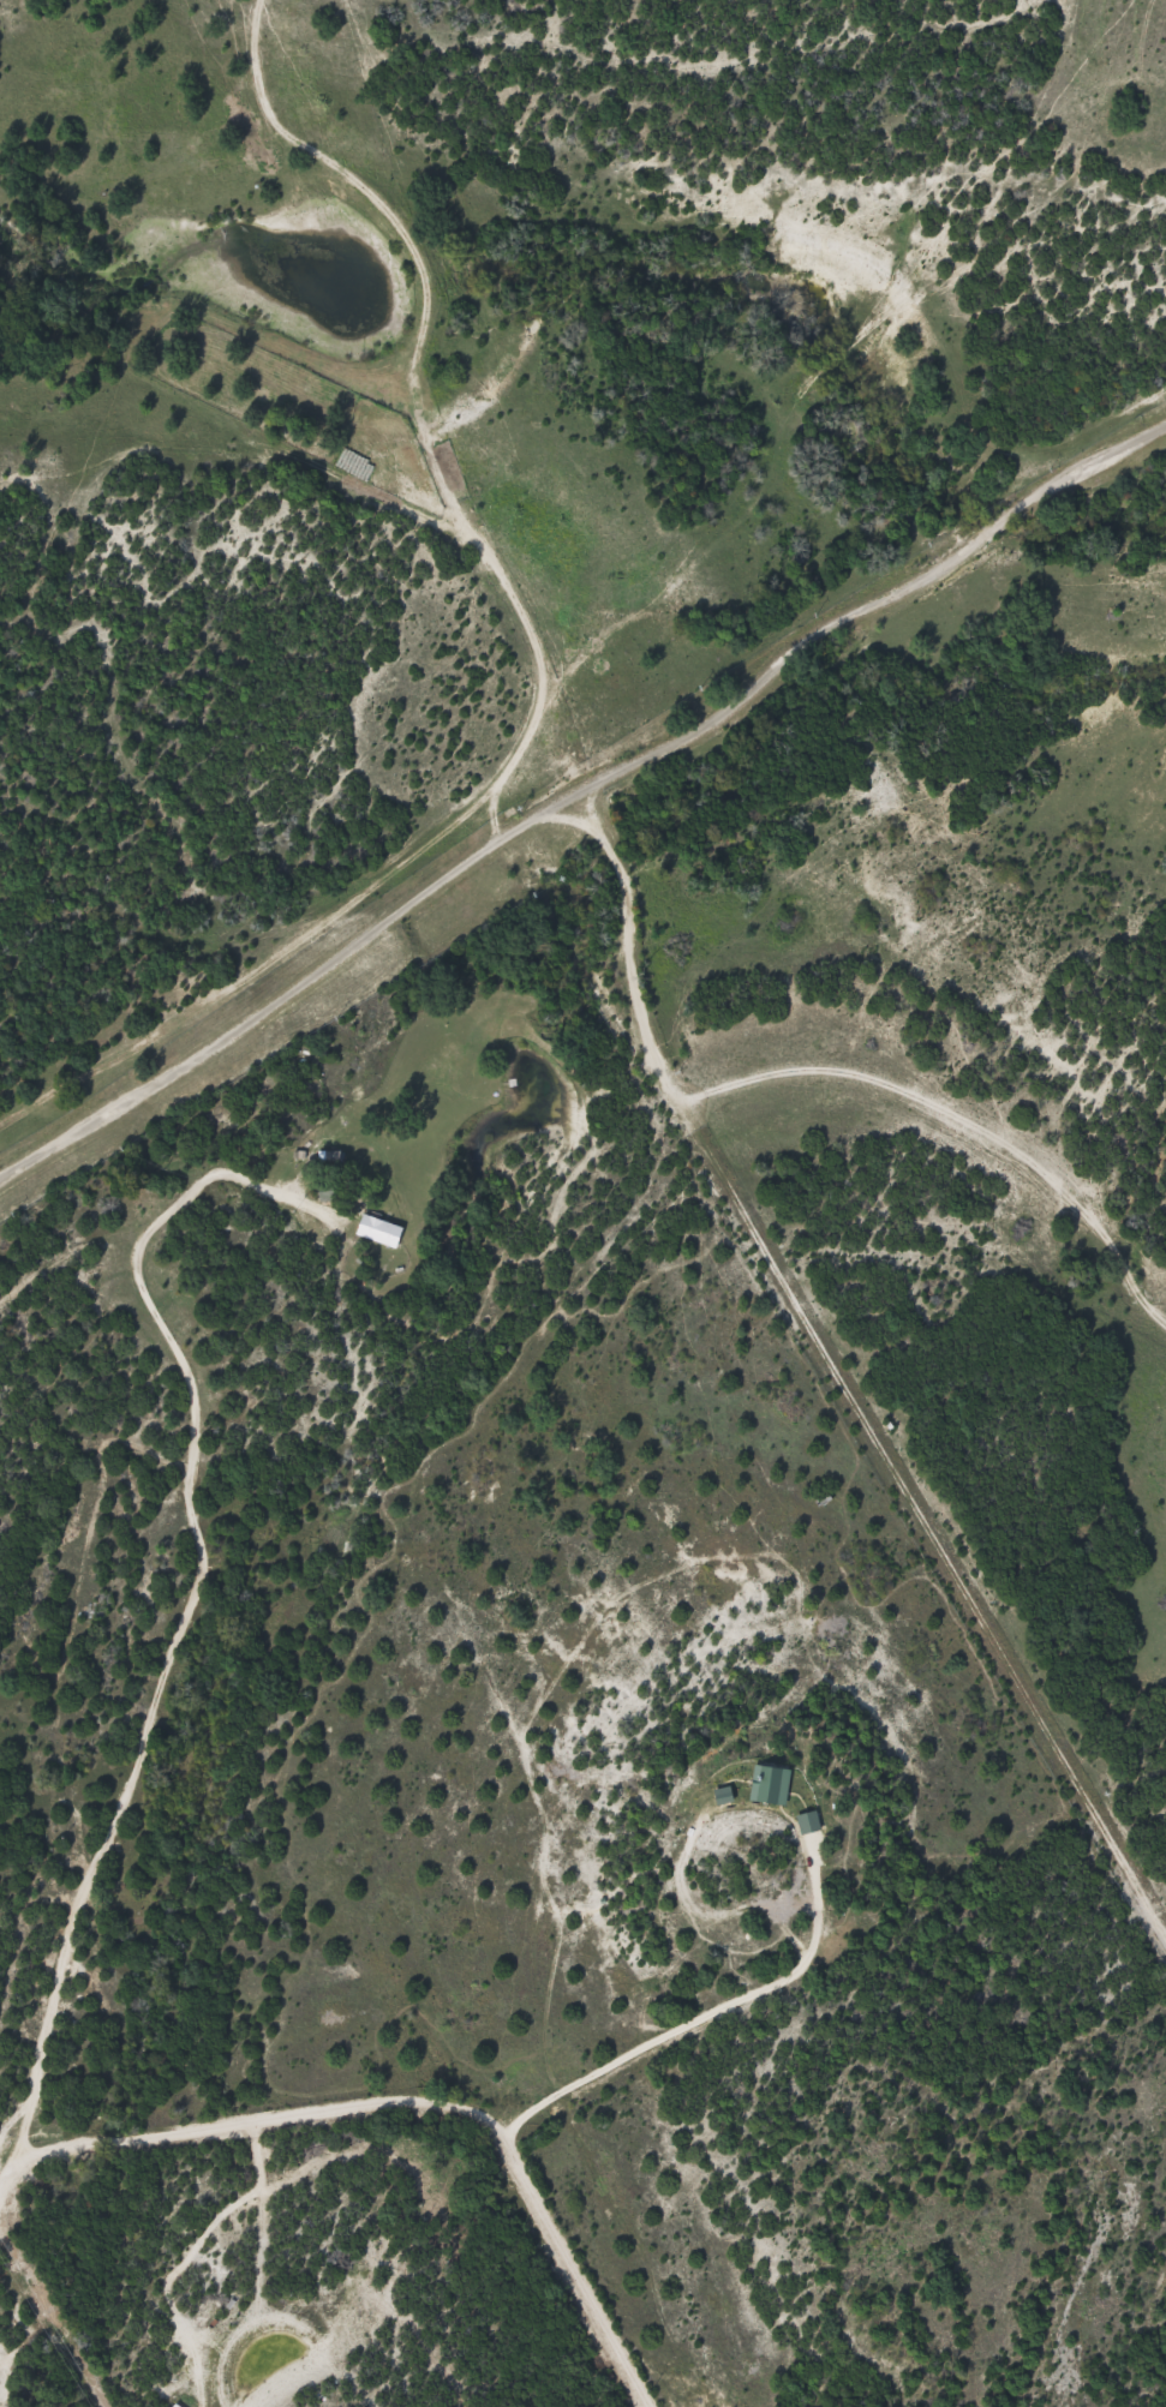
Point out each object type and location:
road: (576, 783)
building: (382, 1227)
road: (396, 2106)

